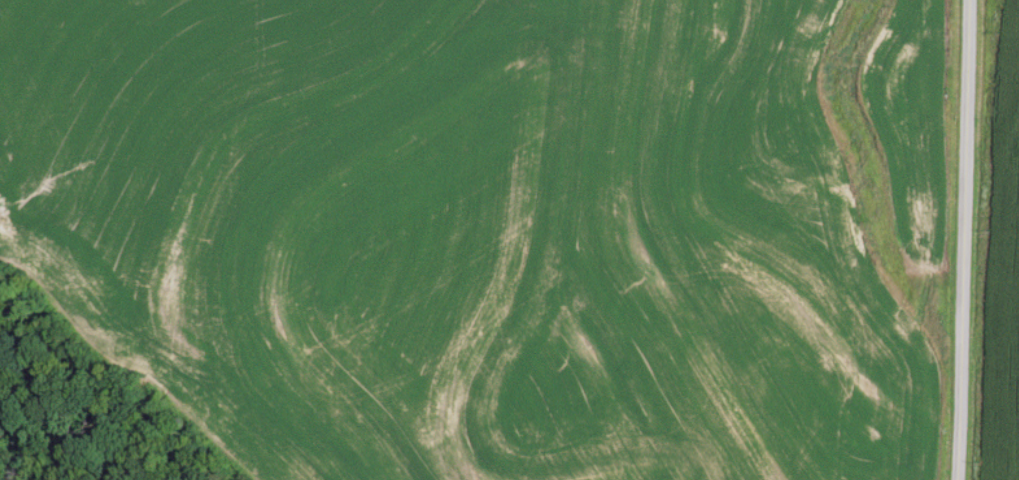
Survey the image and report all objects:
road: (963, 240)

